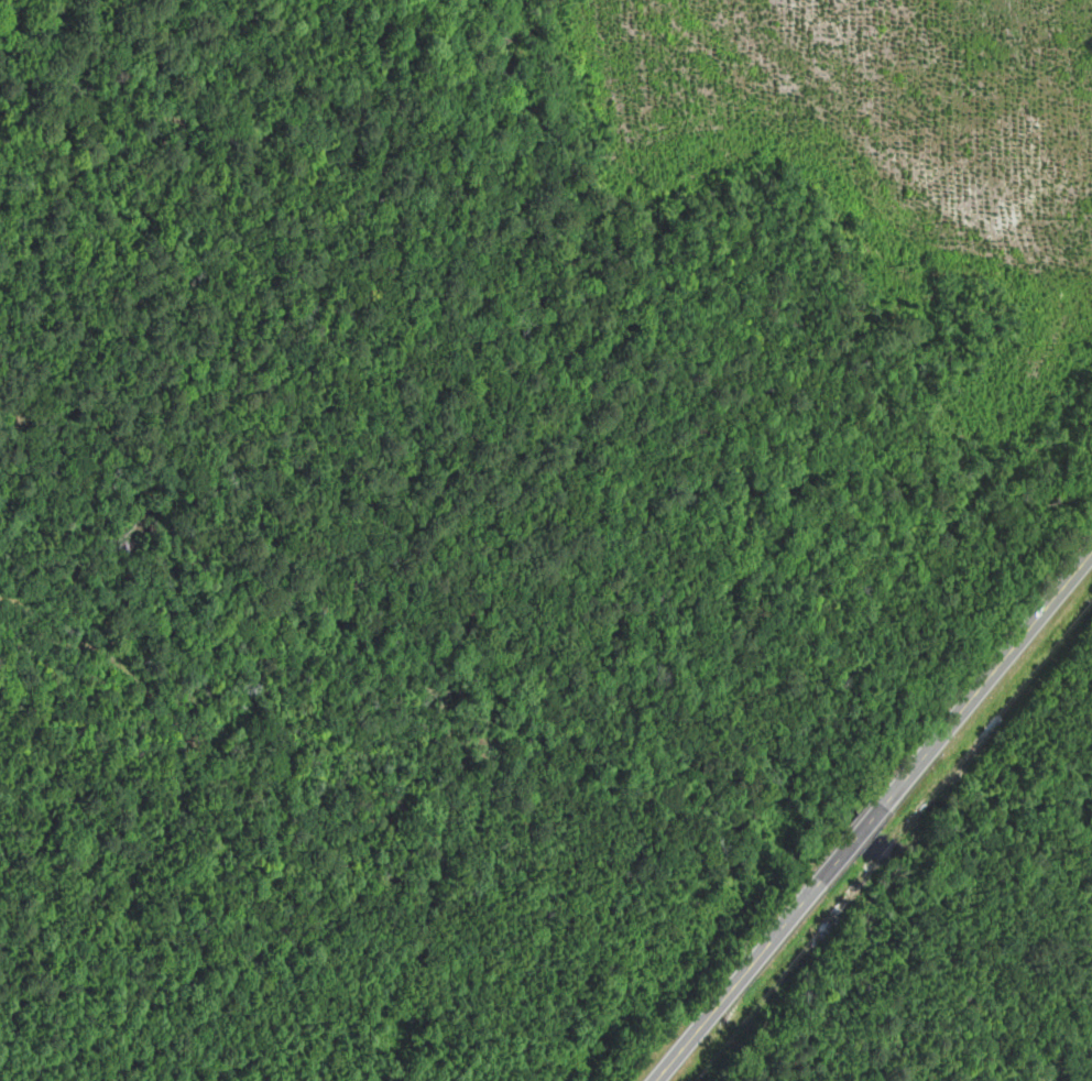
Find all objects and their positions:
road: (873, 816)

